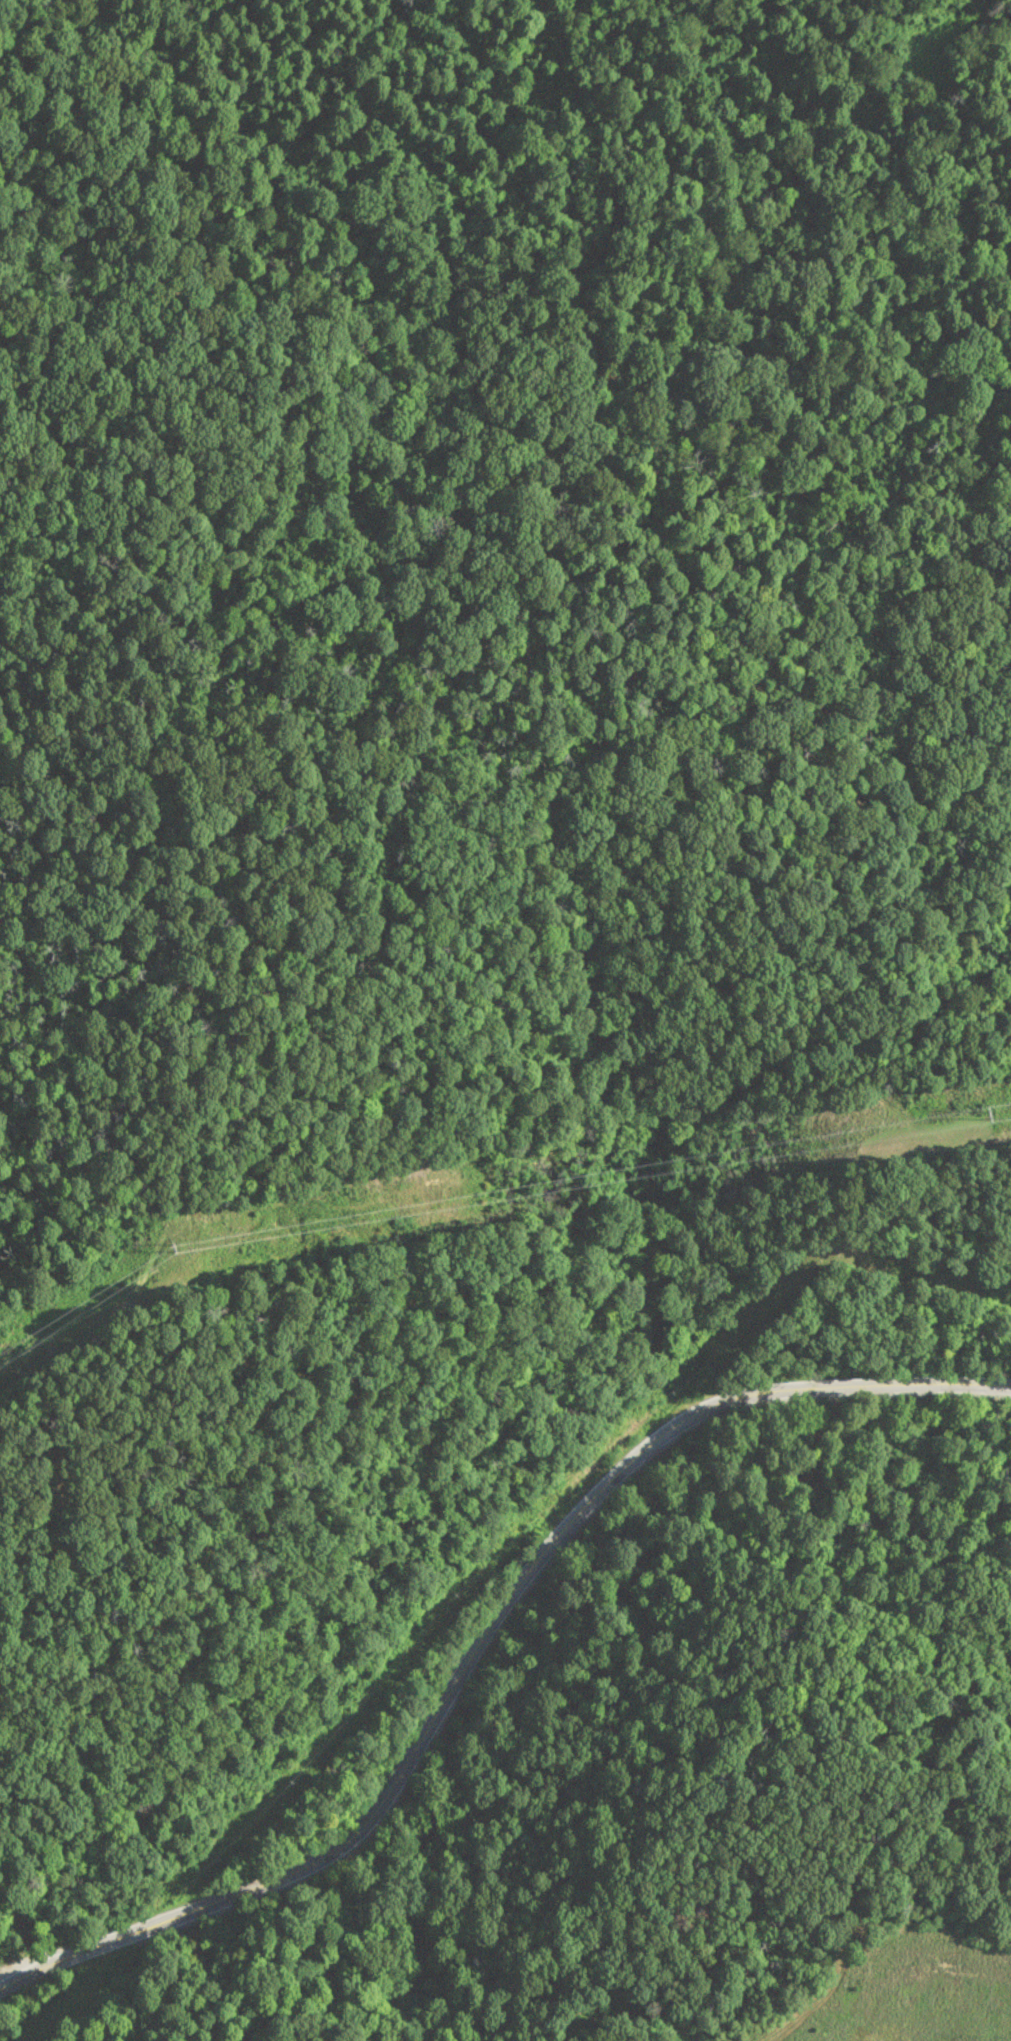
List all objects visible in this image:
power tower: (170, 1255)
road: (485, 1636)

